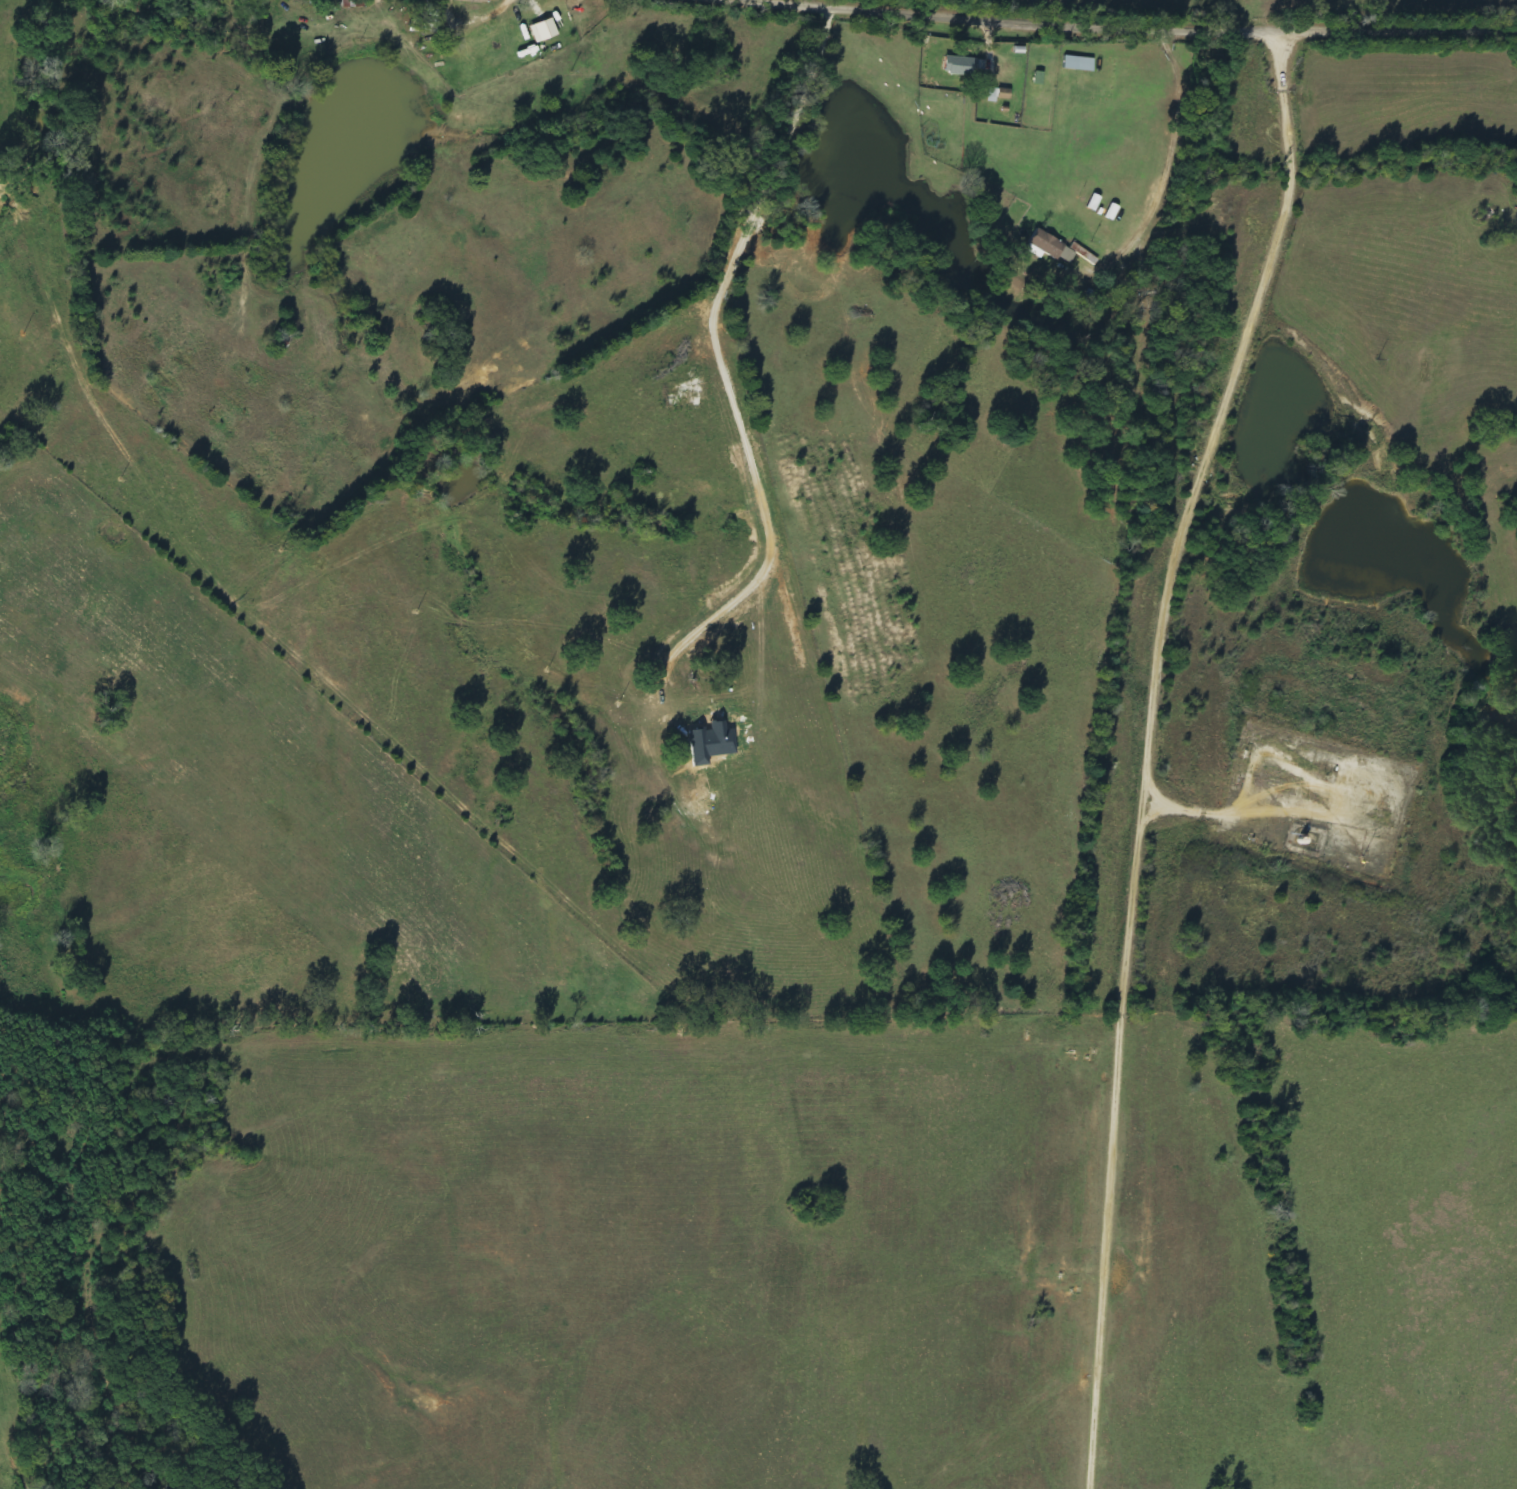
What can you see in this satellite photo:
building: (471, 1)
road: (1209, 28)
building: (544, 31)
building: (1079, 64)
building: (965, 67)
building: (999, 95)
building: (1057, 250)

